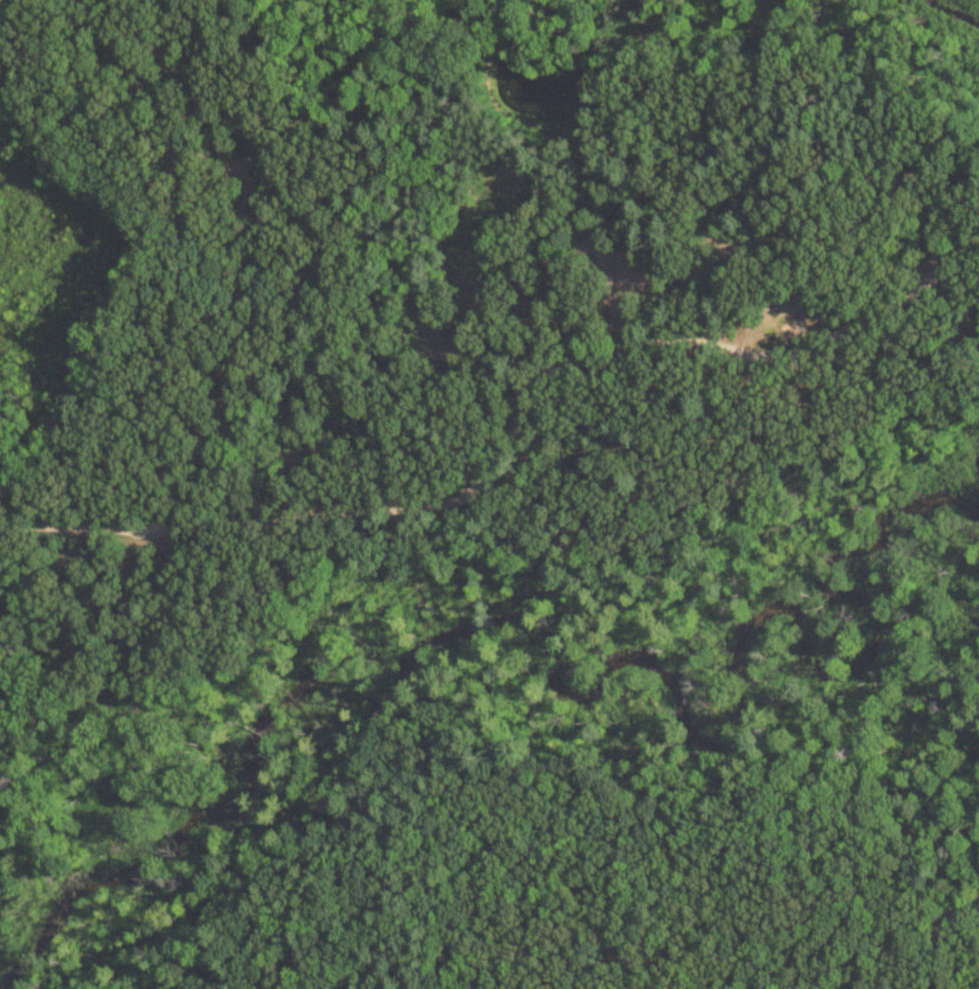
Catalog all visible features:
building: (542, 97)
road: (506, 438)
road: (688, 863)
road: (684, 938)

